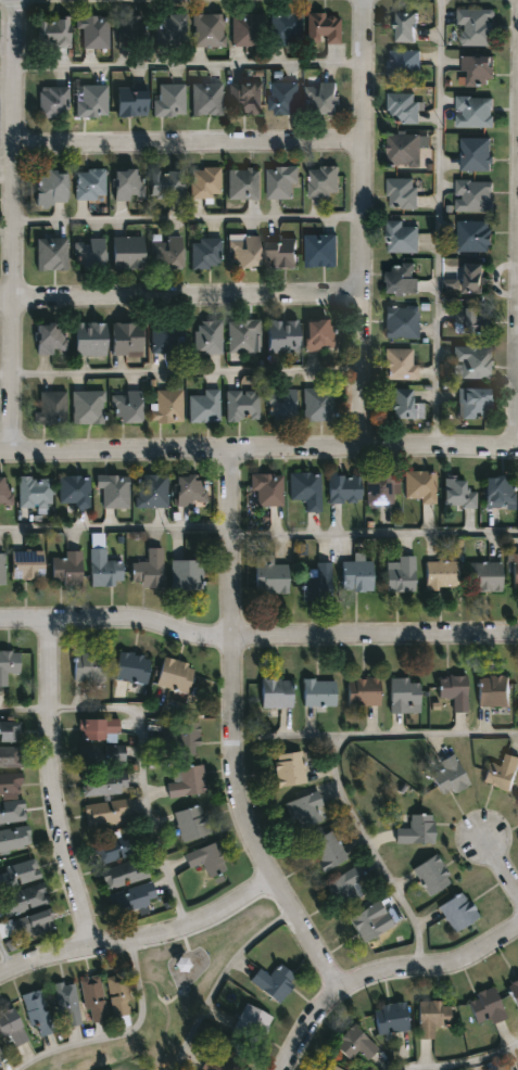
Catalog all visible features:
road: (7, 0)
road: (42, 0)
building: (409, 26)
building: (478, 26)
building: (325, 27)
building: (173, 28)
building: (288, 28)
building: (209, 29)
building: (248, 29)
building: (93, 30)
building: (134, 30)
building: (54, 31)
building: (405, 64)
road: (190, 65)
building: (479, 71)
building: (286, 97)
building: (323, 97)
building: (247, 98)
building: (207, 99)
building: (92, 100)
building: (170, 100)
building: (53, 102)
building: (132, 102)
building: (403, 106)
building: (476, 111)
road: (189, 148)
building: (406, 149)
building: (477, 153)
building: (326, 180)
building: (283, 181)
building: (130, 182)
building: (206, 182)
building: (167, 183)
building: (244, 183)
building: (92, 184)
building: (52, 187)
building: (403, 192)
building: (475, 195)
road: (189, 218)
road: (363, 225)
road: (438, 225)
road: (15, 228)
building: (476, 234)
building: (403, 235)
building: (323, 250)
building: (245, 251)
building: (168, 252)
building: (286, 252)
building: (52, 253)
building: (90, 253)
building: (129, 253)
building: (206, 253)
building: (404, 277)
building: (478, 277)
building: (452, 284)
road: (188, 302)
road: (7, 303)
building: (475, 320)
building: (403, 321)
building: (245, 335)
building: (286, 335)
building: (324, 335)
building: (167, 336)
building: (209, 337)
building: (51, 339)
building: (91, 339)
building: (129, 339)
building: (473, 362)
building: (402, 364)
road: (181, 372)
building: (476, 404)
building: (283, 405)
building: (321, 405)
building: (407, 405)
building: (169, 406)
building: (244, 406)
building: (128, 407)
building: (205, 407)
building: (52, 408)
building: (88, 408)
road: (517, 409)
road: (258, 454)
building: (421, 486)
building: (268, 488)
building: (307, 488)
building: (345, 488)
building: (382, 488)
building: (75, 491)
building: (114, 491)
building: (153, 491)
building: (191, 491)
building: (501, 491)
building: (35, 492)
building: (5, 493)
building: (459, 493)
road: (116, 527)
road: (375, 535)
building: (26, 564)
building: (1, 568)
building: (66, 568)
building: (103, 568)
building: (148, 570)
building: (515, 570)
building: (401, 573)
building: (186, 574)
building: (442, 574)
building: (269, 575)
building: (357, 575)
building: (487, 576)
building: (317, 583)
road: (257, 639)
building: (8, 663)
building: (89, 666)
building: (131, 667)
building: (175, 675)
building: (494, 689)
building: (363, 690)
building: (454, 690)
building: (318, 691)
building: (277, 692)
building: (404, 695)
road: (24, 710)
building: (99, 729)
building: (9, 731)
road: (376, 733)
road: (235, 737)
building: (182, 739)
building: (103, 755)
building: (10, 756)
building: (288, 768)
building: (502, 772)
building: (447, 775)
building: (186, 781)
road: (146, 782)
building: (10, 784)
building: (103, 784)
road: (51, 788)
building: (12, 811)
building: (108, 812)
building: (305, 812)
building: (191, 823)
building: (416, 830)
building: (14, 838)
building: (114, 846)
building: (327, 851)
road: (374, 853)
building: (210, 861)
road: (501, 868)
building: (18, 872)
building: (124, 872)
building: (431, 876)
building: (345, 887)
building: (131, 897)
building: (23, 900)
building: (457, 912)
building: (367, 920)
building: (31, 923)
road: (141, 940)
road: (5, 961)
road: (386, 975)
road: (218, 980)
building: (274, 981)
building: (514, 989)
park: (173, 992)
building: (117, 994)
building: (92, 997)
building: (65, 1004)
building: (487, 1005)
building: (37, 1012)
building: (432, 1017)
building: (391, 1018)
building: (252, 1022)
building: (11, 1027)
road: (118, 1035)
building: (355, 1044)
building: (0, 1057)
road: (467, 1062)
building: (219, 1063)
building: (331, 1068)

